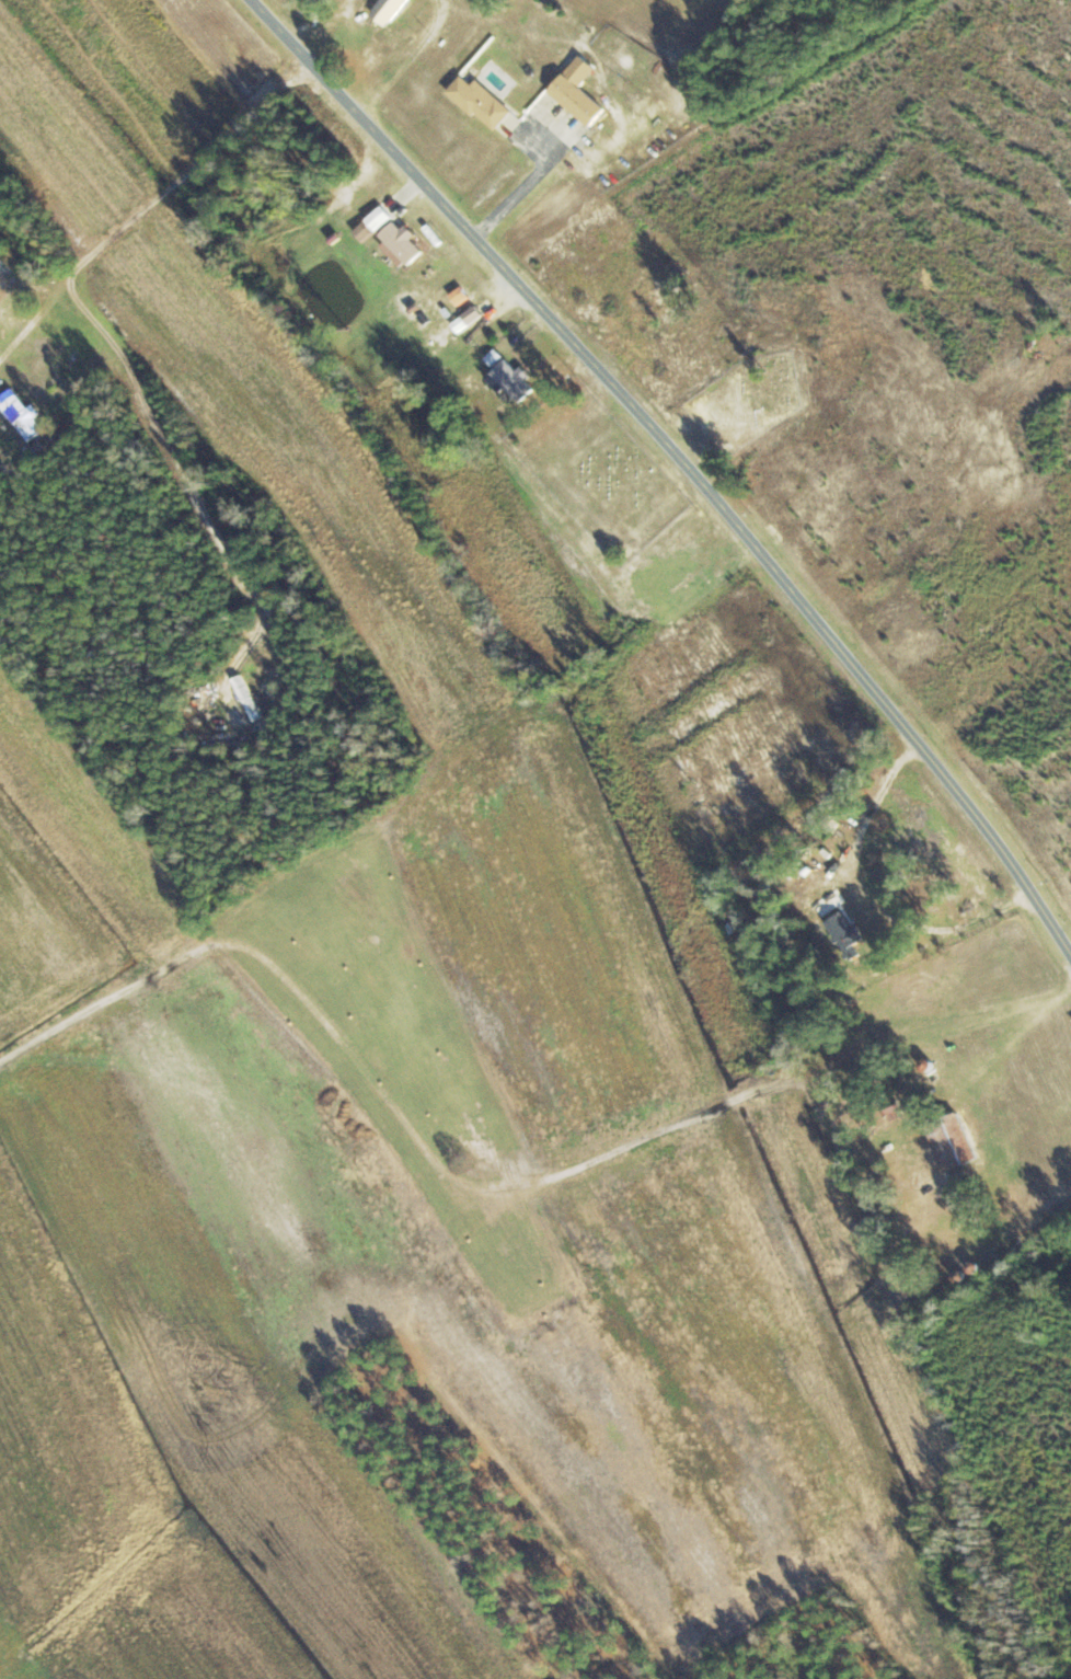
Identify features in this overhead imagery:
building: (385, 11)
building: (575, 91)
building: (479, 102)
building: (378, 219)
building: (400, 242)
building: (465, 320)
road: (511, 335)
building: (508, 377)
building: (19, 415)
road: (684, 458)
road: (988, 653)
building: (245, 698)
building: (842, 932)
building: (949, 1142)

